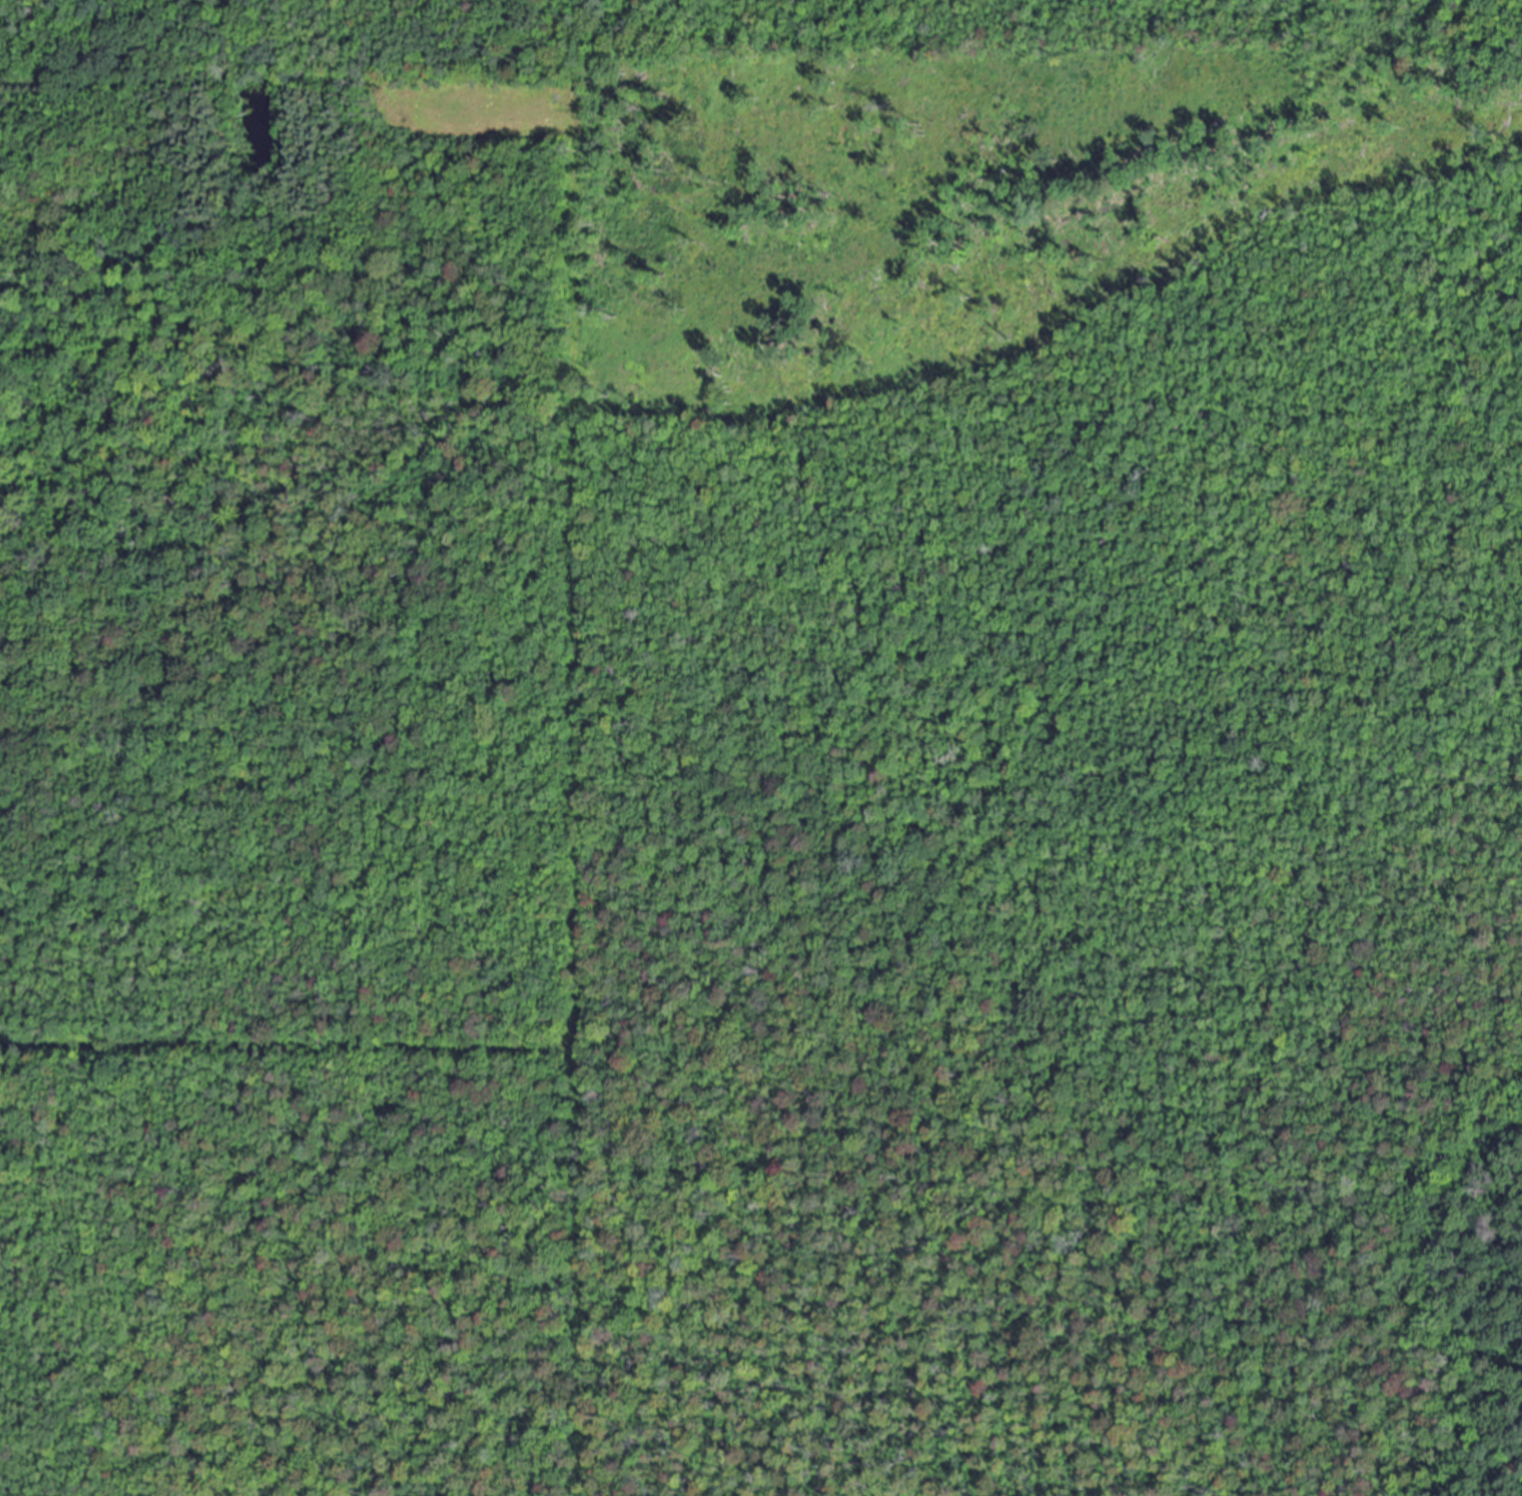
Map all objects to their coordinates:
road: (1513, 1476)

